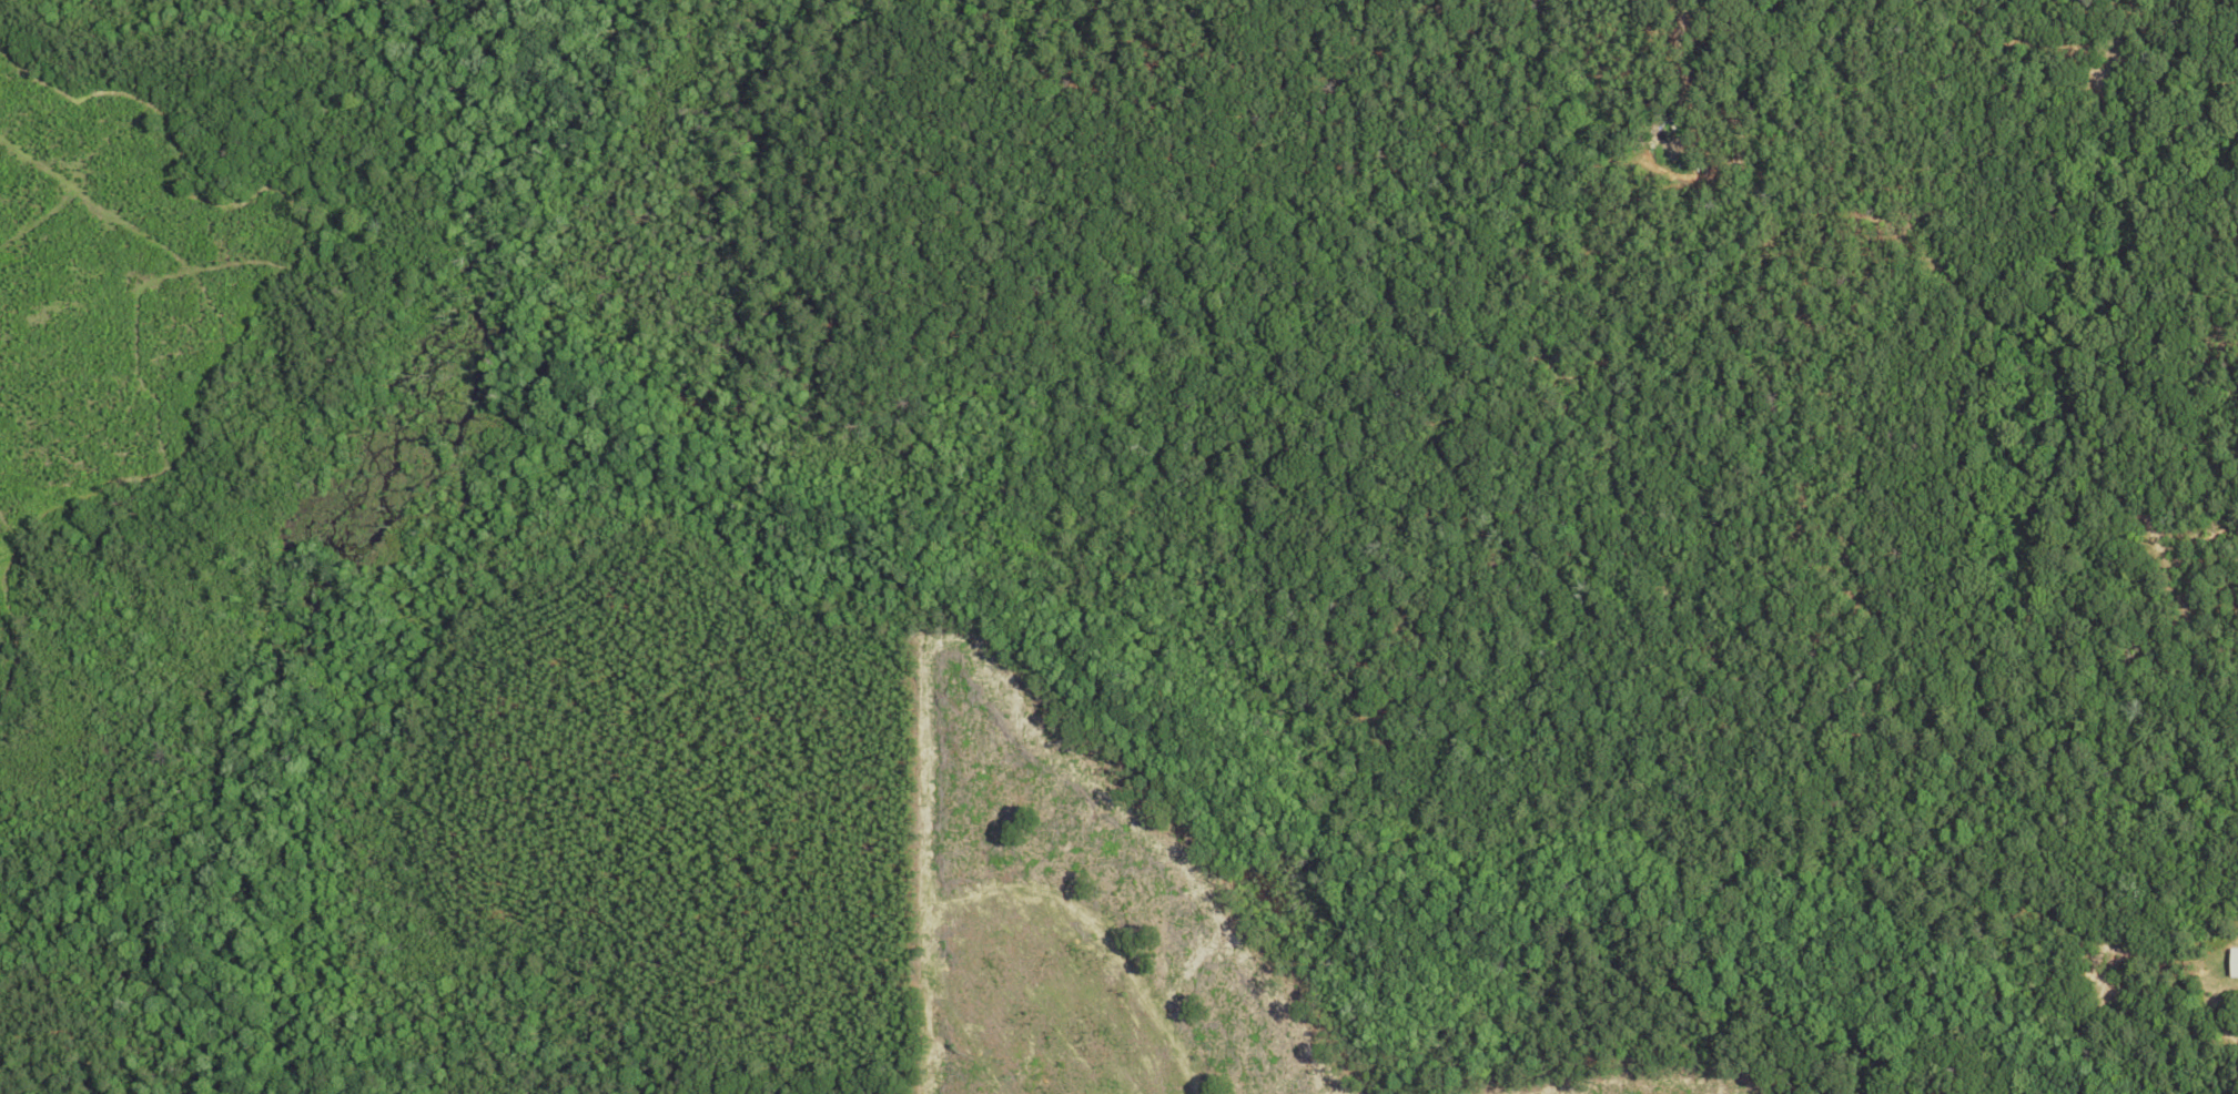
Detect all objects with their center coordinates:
building: (2234, 963)

